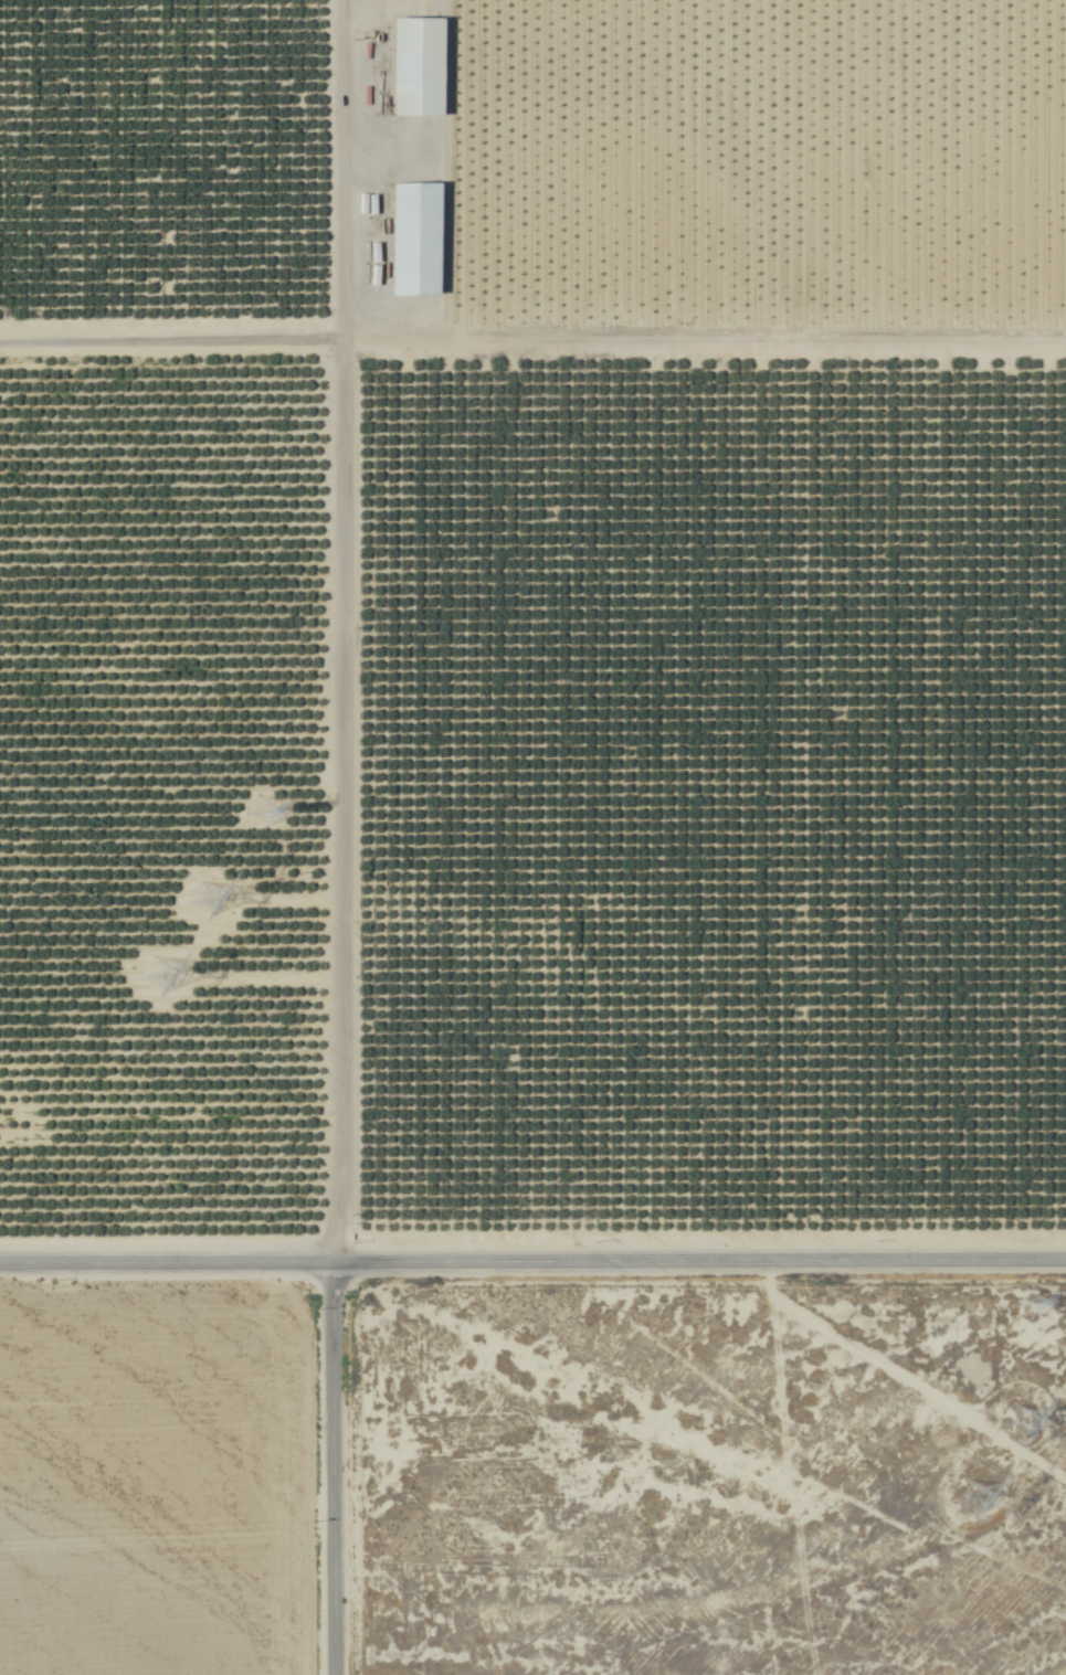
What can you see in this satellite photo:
building: (424, 66)
building: (422, 240)
road: (318, 625)
power tower: (258, 808)
crop: (532, 837)
power tower: (207, 904)
power tower: (176, 978)
road: (532, 1251)
power tower: (1036, 1301)
power tower: (1025, 1424)
road: (328, 1463)
power tower: (979, 1503)

